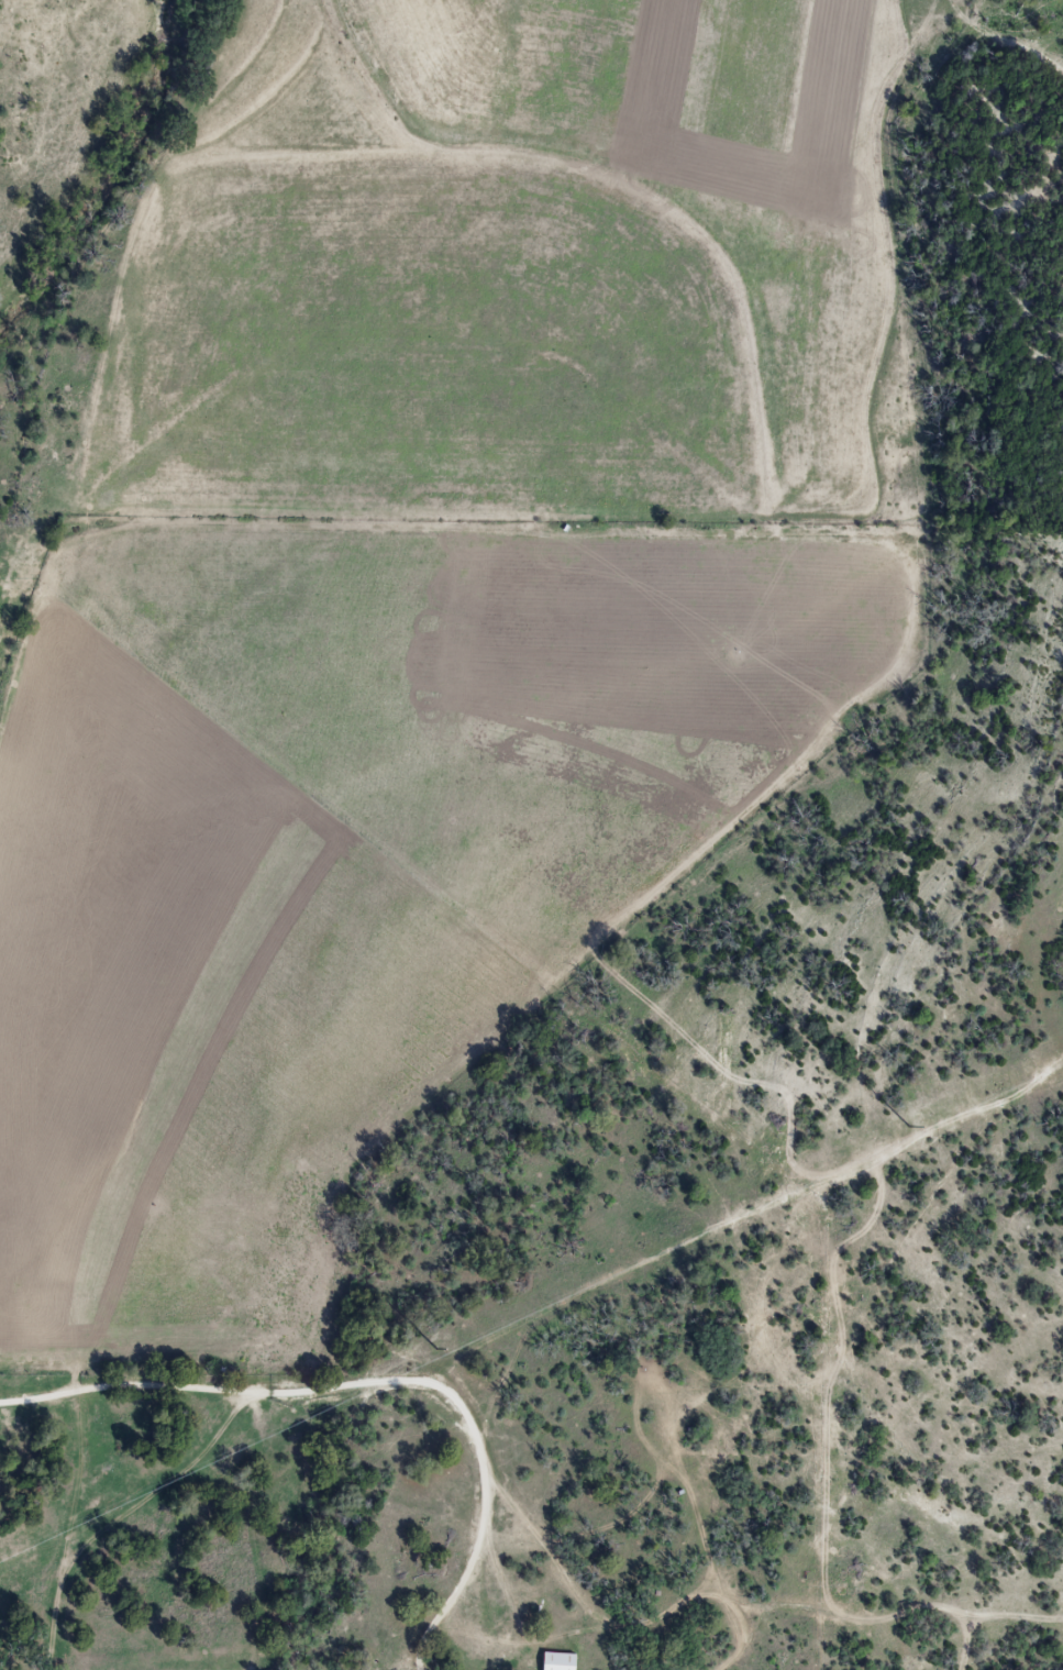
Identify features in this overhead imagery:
power tower: (912, 1127)
power tower: (436, 1349)
road: (785, 1361)
building: (553, 1660)

